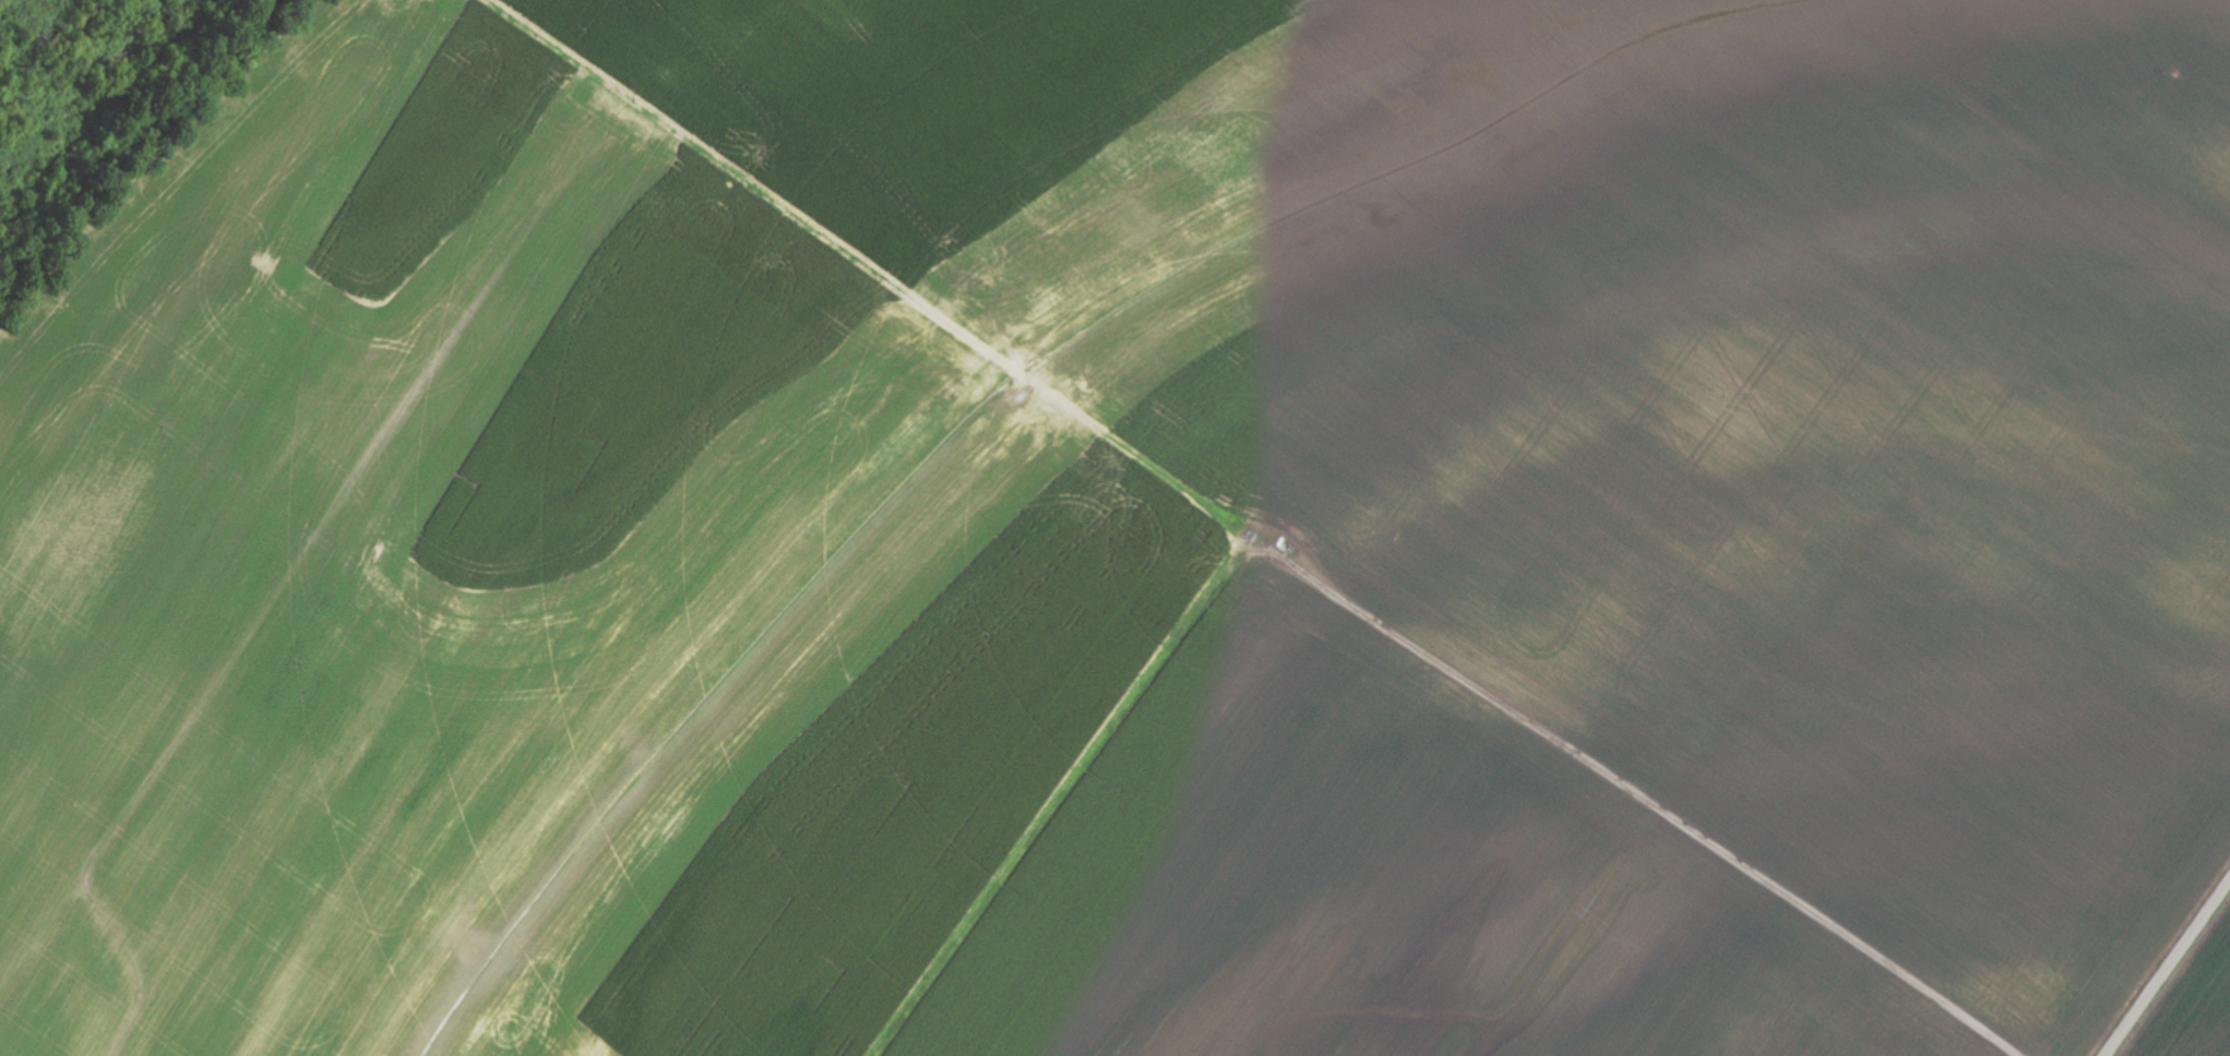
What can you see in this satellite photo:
road: (2168, 969)

